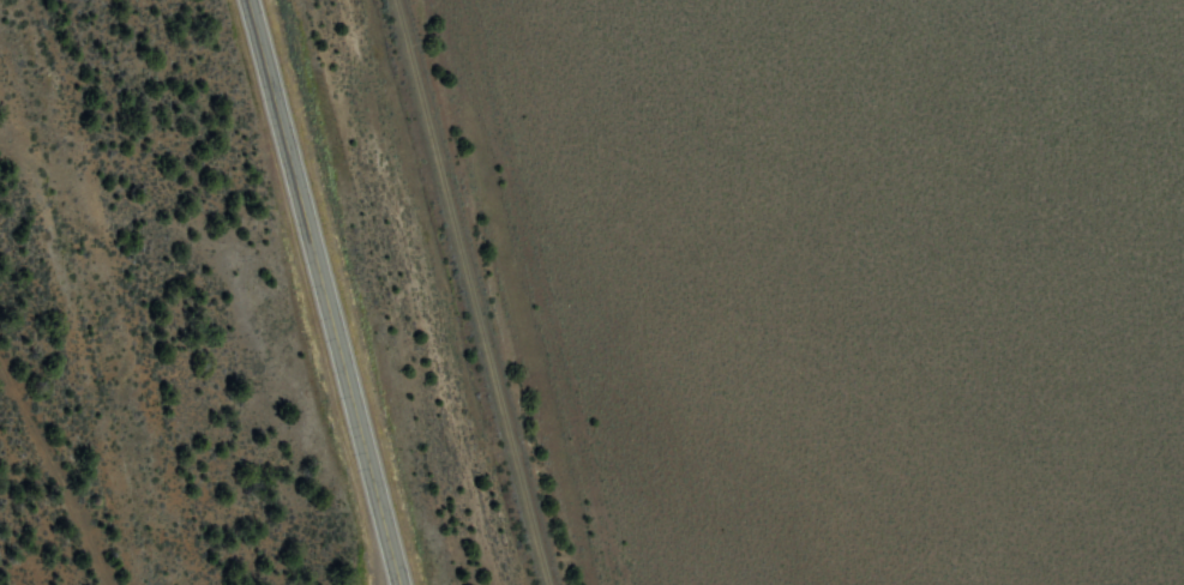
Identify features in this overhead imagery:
road: (325, 291)
road: (58, 470)

